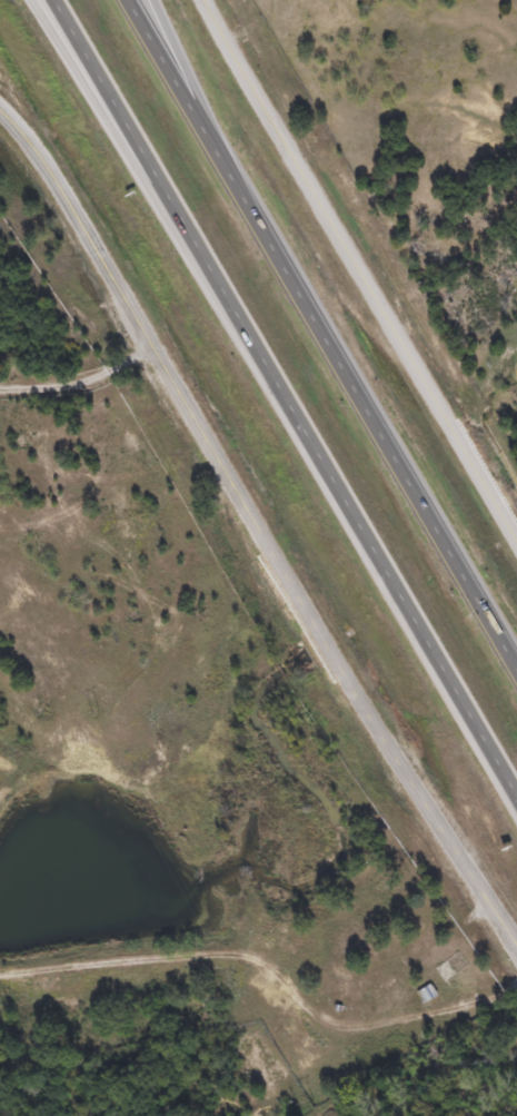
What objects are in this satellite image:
road: (126, 144)
road: (231, 156)
road: (357, 271)
road: (321, 329)
road: (284, 399)
road: (257, 529)
building: (427, 994)

